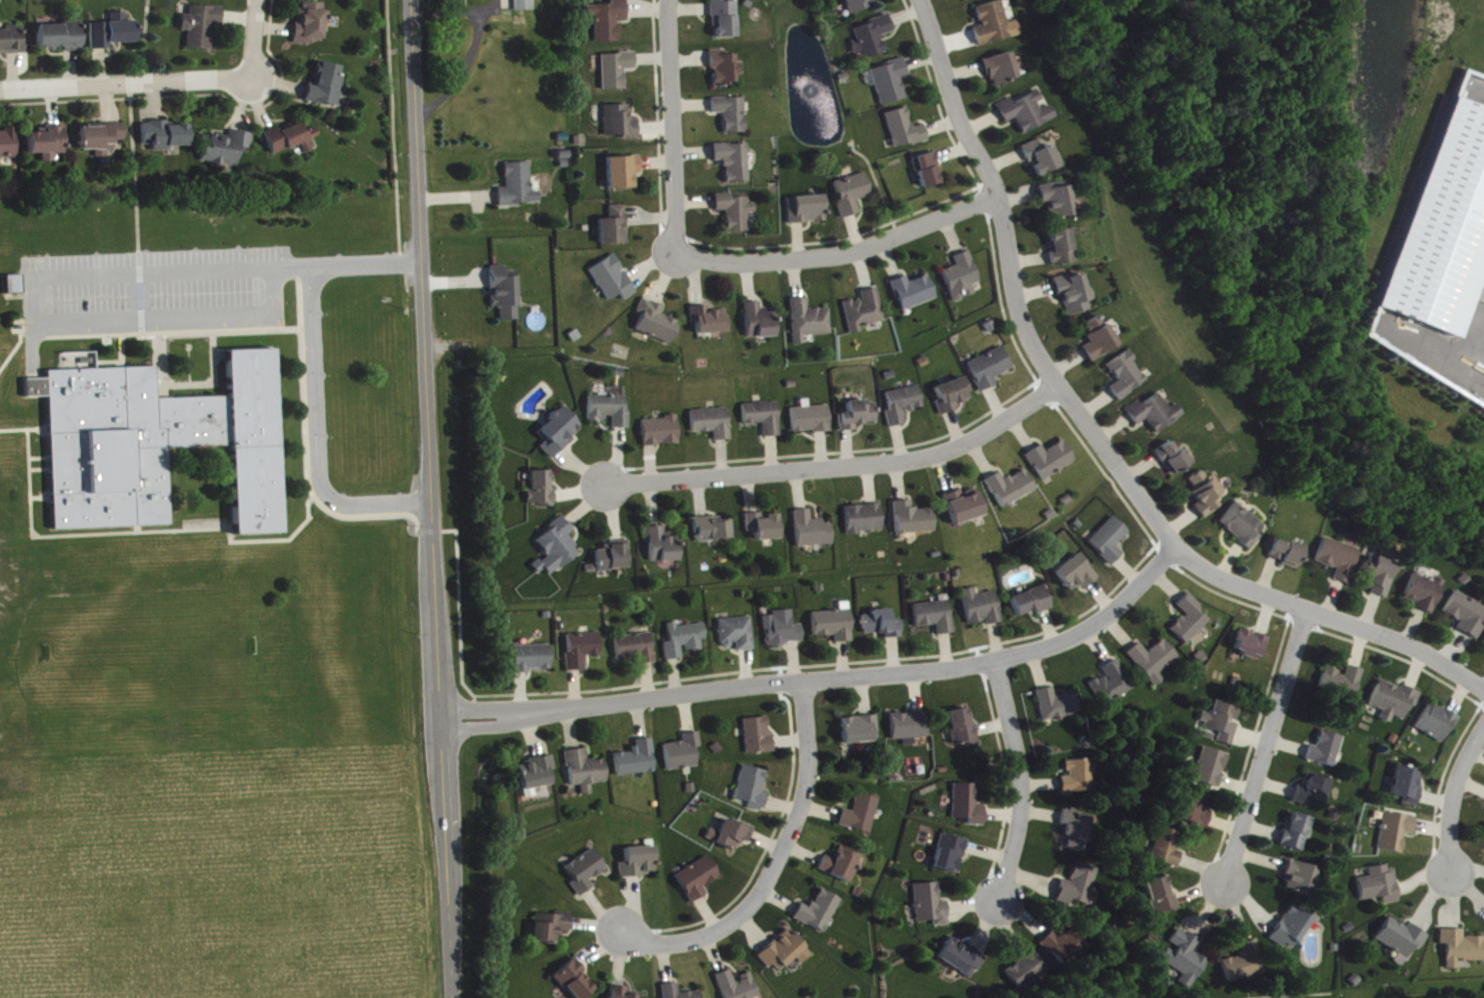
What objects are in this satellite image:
building: (969, 0)
building: (526, 6)
building: (859, 6)
building: (726, 19)
building: (610, 21)
building: (313, 22)
building: (994, 26)
building: (203, 27)
building: (114, 34)
building: (62, 38)
building: (875, 38)
road: (255, 39)
road: (143, 41)
building: (12, 42)
building: (725, 70)
building: (1001, 70)
building: (618, 71)
building: (892, 83)
road: (126, 84)
building: (327, 87)
building: (1027, 113)
building: (732, 115)
building: (621, 124)
road: (674, 125)
road: (392, 130)
building: (905, 130)
building: (165, 137)
building: (102, 139)
building: (292, 140)
building: (49, 144)
building: (9, 146)
building: (227, 150)
building: (1041, 159)
building: (734, 163)
road: (132, 168)
building: (928, 172)
building: (624, 174)
building: (519, 188)
building: (853, 195)
building: (1057, 201)
building: (808, 211)
building: (736, 213)
building: (1442, 226)
building: (616, 228)
building: (1062, 248)
road: (844, 256)
road: (363, 262)
building: (962, 279)
building: (614, 281)
parking lot: (160, 292)
road: (139, 293)
building: (914, 293)
building: (506, 295)
building: (1074, 295)
road: (34, 300)
building: (865, 313)
building: (710, 322)
building: (810, 322)
building: (658, 323)
building: (761, 323)
road: (179, 333)
road: (19, 335)
building: (1099, 340)
flagpole: (193, 347)
road: (127, 352)
road: (225, 356)
building: (81, 362)
road: (167, 367)
road: (194, 367)
building: (990, 370)
building: (1126, 377)
road: (218, 383)
building: (953, 397)
road: (405, 398)
building: (904, 406)
building: (611, 411)
building: (1155, 414)
building: (860, 416)
building: (765, 418)
building: (812, 420)
building: (714, 424)
road: (27, 428)
building: (560, 433)
building: (662, 433)
road: (313, 435)
road: (1094, 437)
building: (162, 445)
building: (1174, 460)
building: (1051, 461)
road: (841, 465)
building: (1012, 489)
building: (542, 490)
building: (1206, 495)
road: (430, 499)
building: (965, 508)
building: (865, 520)
building: (914, 520)
road: (146, 527)
building: (765, 527)
building: (1244, 527)
road: (427, 529)
building: (715, 530)
building: (814, 532)
building: (1110, 542)
building: (663, 547)
building: (557, 549)
building: (1288, 554)
building: (614, 558)
building: (1340, 560)
building: (1076, 576)
building: (1383, 579)
building: (1425, 595)
building: (1033, 603)
building: (983, 609)
road: (458, 616)
building: (1467, 616)
building: (936, 618)
building: (1190, 621)
building: (883, 626)
building: (835, 627)
building: (784, 630)
building: (738, 635)
building: (686, 641)
building: (1251, 646)
building: (637, 649)
building: (583, 651)
building: (533, 660)
building: (1154, 661)
road: (828, 679)
building: (1343, 683)
building: (1112, 687)
building: (1395, 702)
building: (1058, 706)
building: (1438, 724)
building: (1220, 725)
building: (911, 727)
building: (963, 729)
building: (862, 731)
building: (759, 738)
road: (1268, 746)
building: (1326, 751)
building: (685, 754)
building: (638, 761)
building: (1211, 770)
building: (587, 772)
building: (537, 776)
road: (1021, 779)
building: (1080, 779)
building: (1408, 788)
building: (753, 789)
building: (1313, 793)
road: (1452, 797)
building: (969, 807)
building: (1196, 811)
building: (862, 816)
building: (1076, 831)
building: (1297, 833)
building: (1397, 833)
building: (732, 836)
building: (1167, 849)
building: (951, 855)
building: (640, 863)
road: (777, 864)
building: (843, 866)
building: (586, 873)
building: (698, 880)
building: (1301, 880)
building: (1079, 887)
building: (1381, 887)
building: (1161, 898)
building: (932, 906)
building: (820, 913)
building: (552, 929)
building: (1292, 930)
building: (1402, 941)
building: (1064, 947)
building: (1462, 949)
building: (786, 953)
building: (963, 960)
building: (1186, 960)
building: (1245, 964)
building: (1028, 973)
building: (575, 981)
building: (738, 986)
building: (622, 993)
building: (678, 993)

